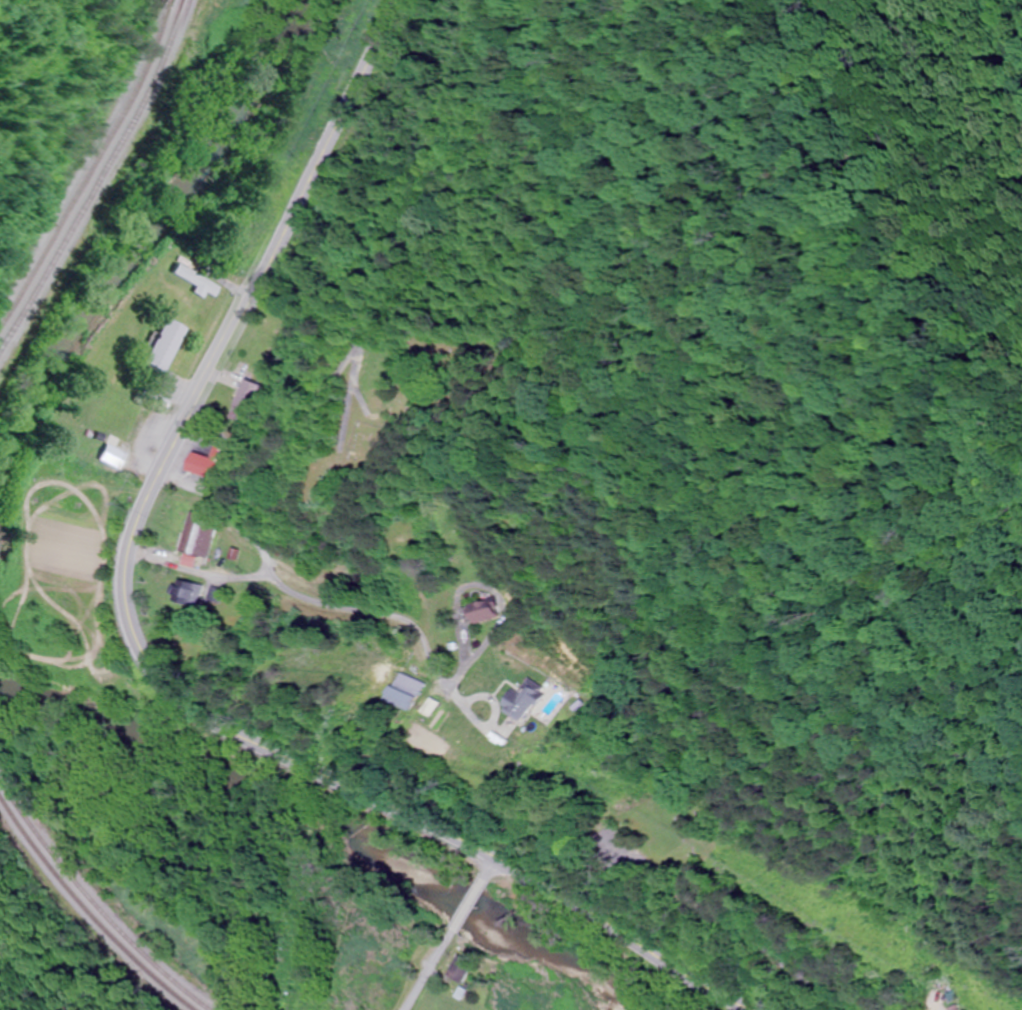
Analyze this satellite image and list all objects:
railway: (98, 180)
river: (150, 225)
building: (196, 282)
building: (164, 345)
park: (418, 380)
building: (242, 401)
road: (307, 411)
building: (207, 463)
building: (196, 535)
road: (243, 575)
building: (184, 591)
road: (370, 611)
building: (486, 611)
road: (140, 653)
building: (411, 691)
building: (529, 699)
river: (339, 817)
park: (687, 825)
road: (490, 867)
road: (468, 905)
railway: (93, 907)
road: (747, 927)
building: (463, 969)
road: (426, 971)
building: (943, 986)
building: (958, 1008)

